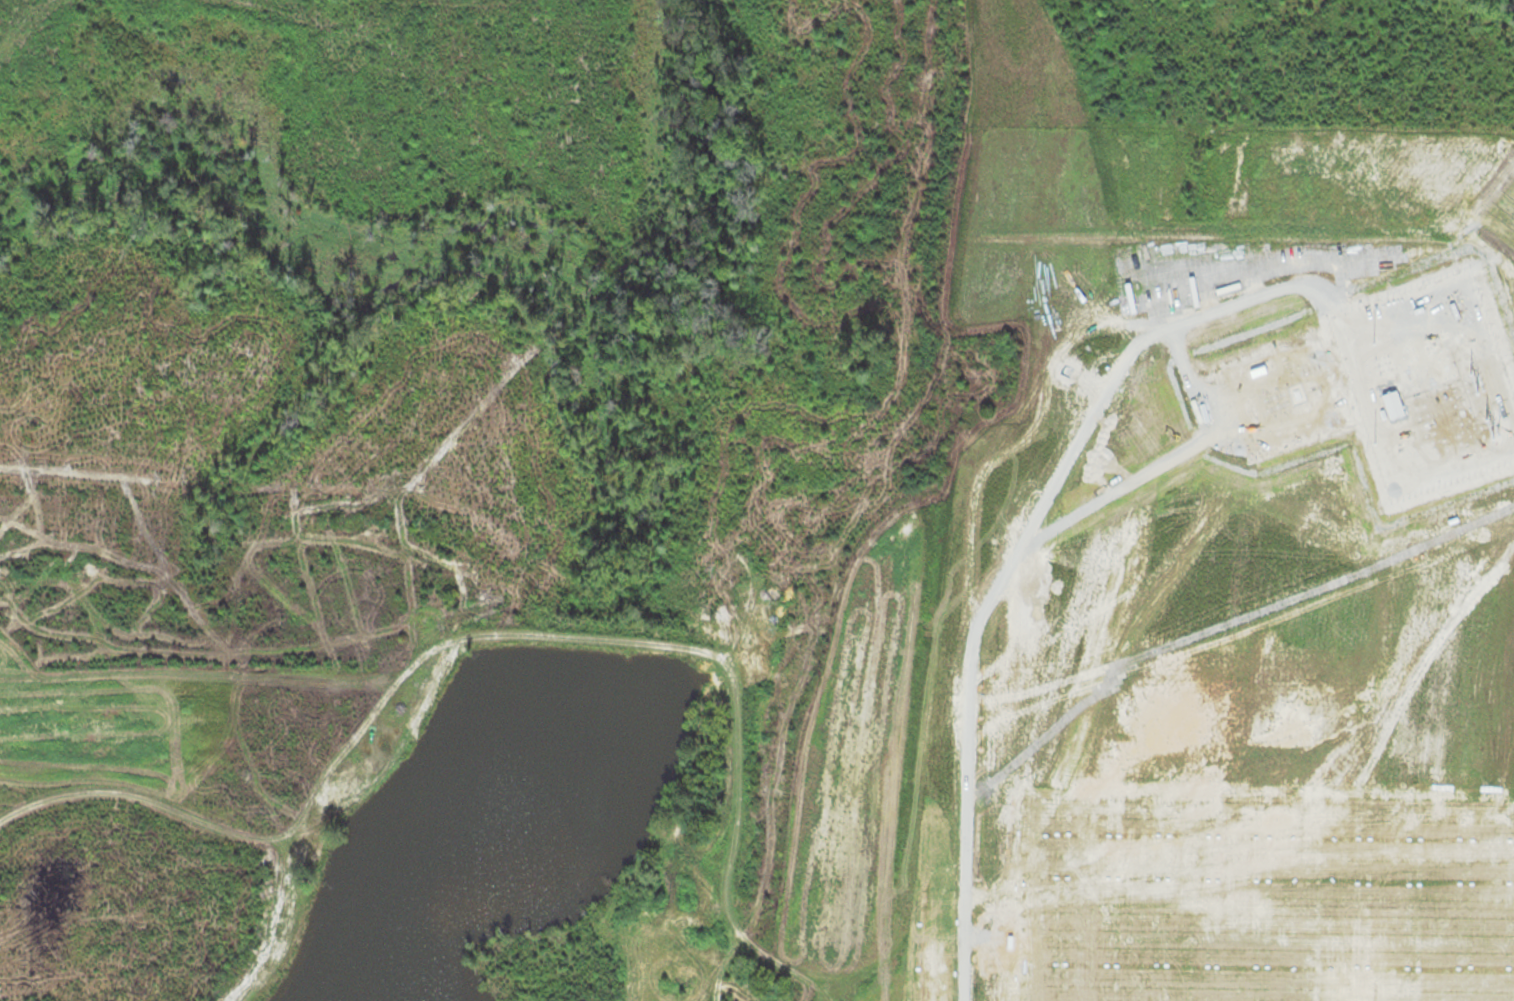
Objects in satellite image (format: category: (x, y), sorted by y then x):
solar farm: (844, 883)

